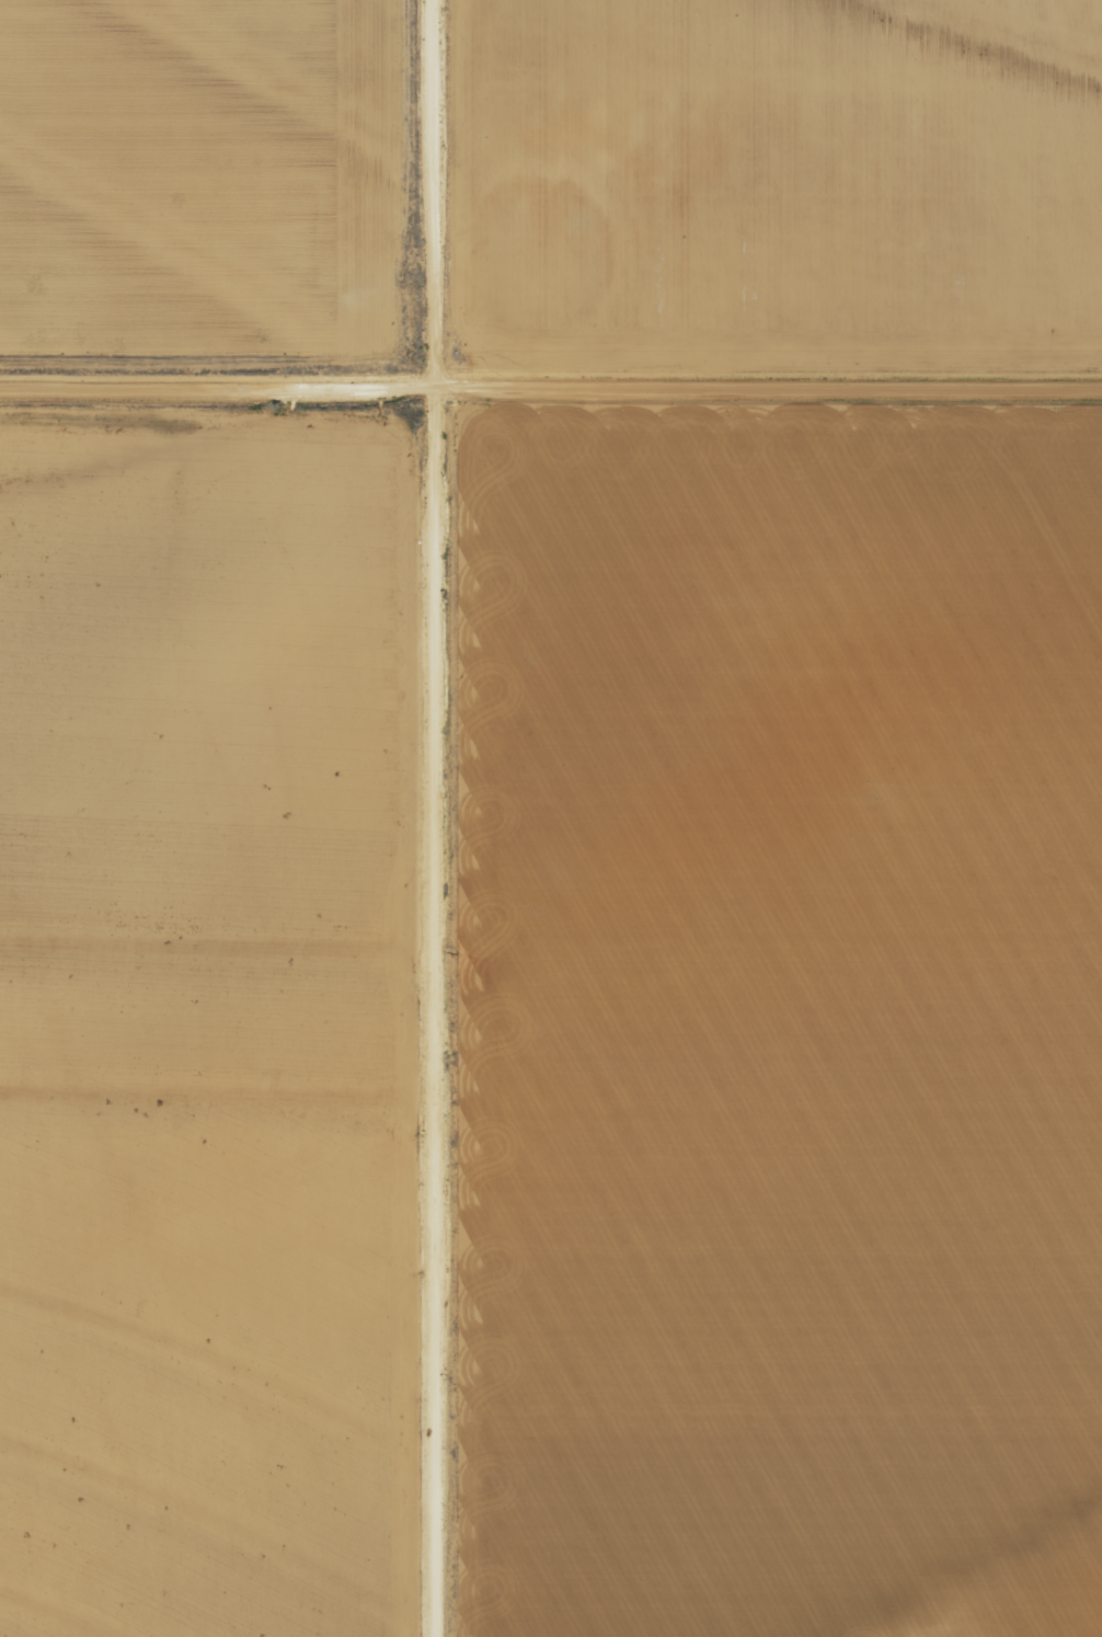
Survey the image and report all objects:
road: (550, 388)
road: (431, 817)

